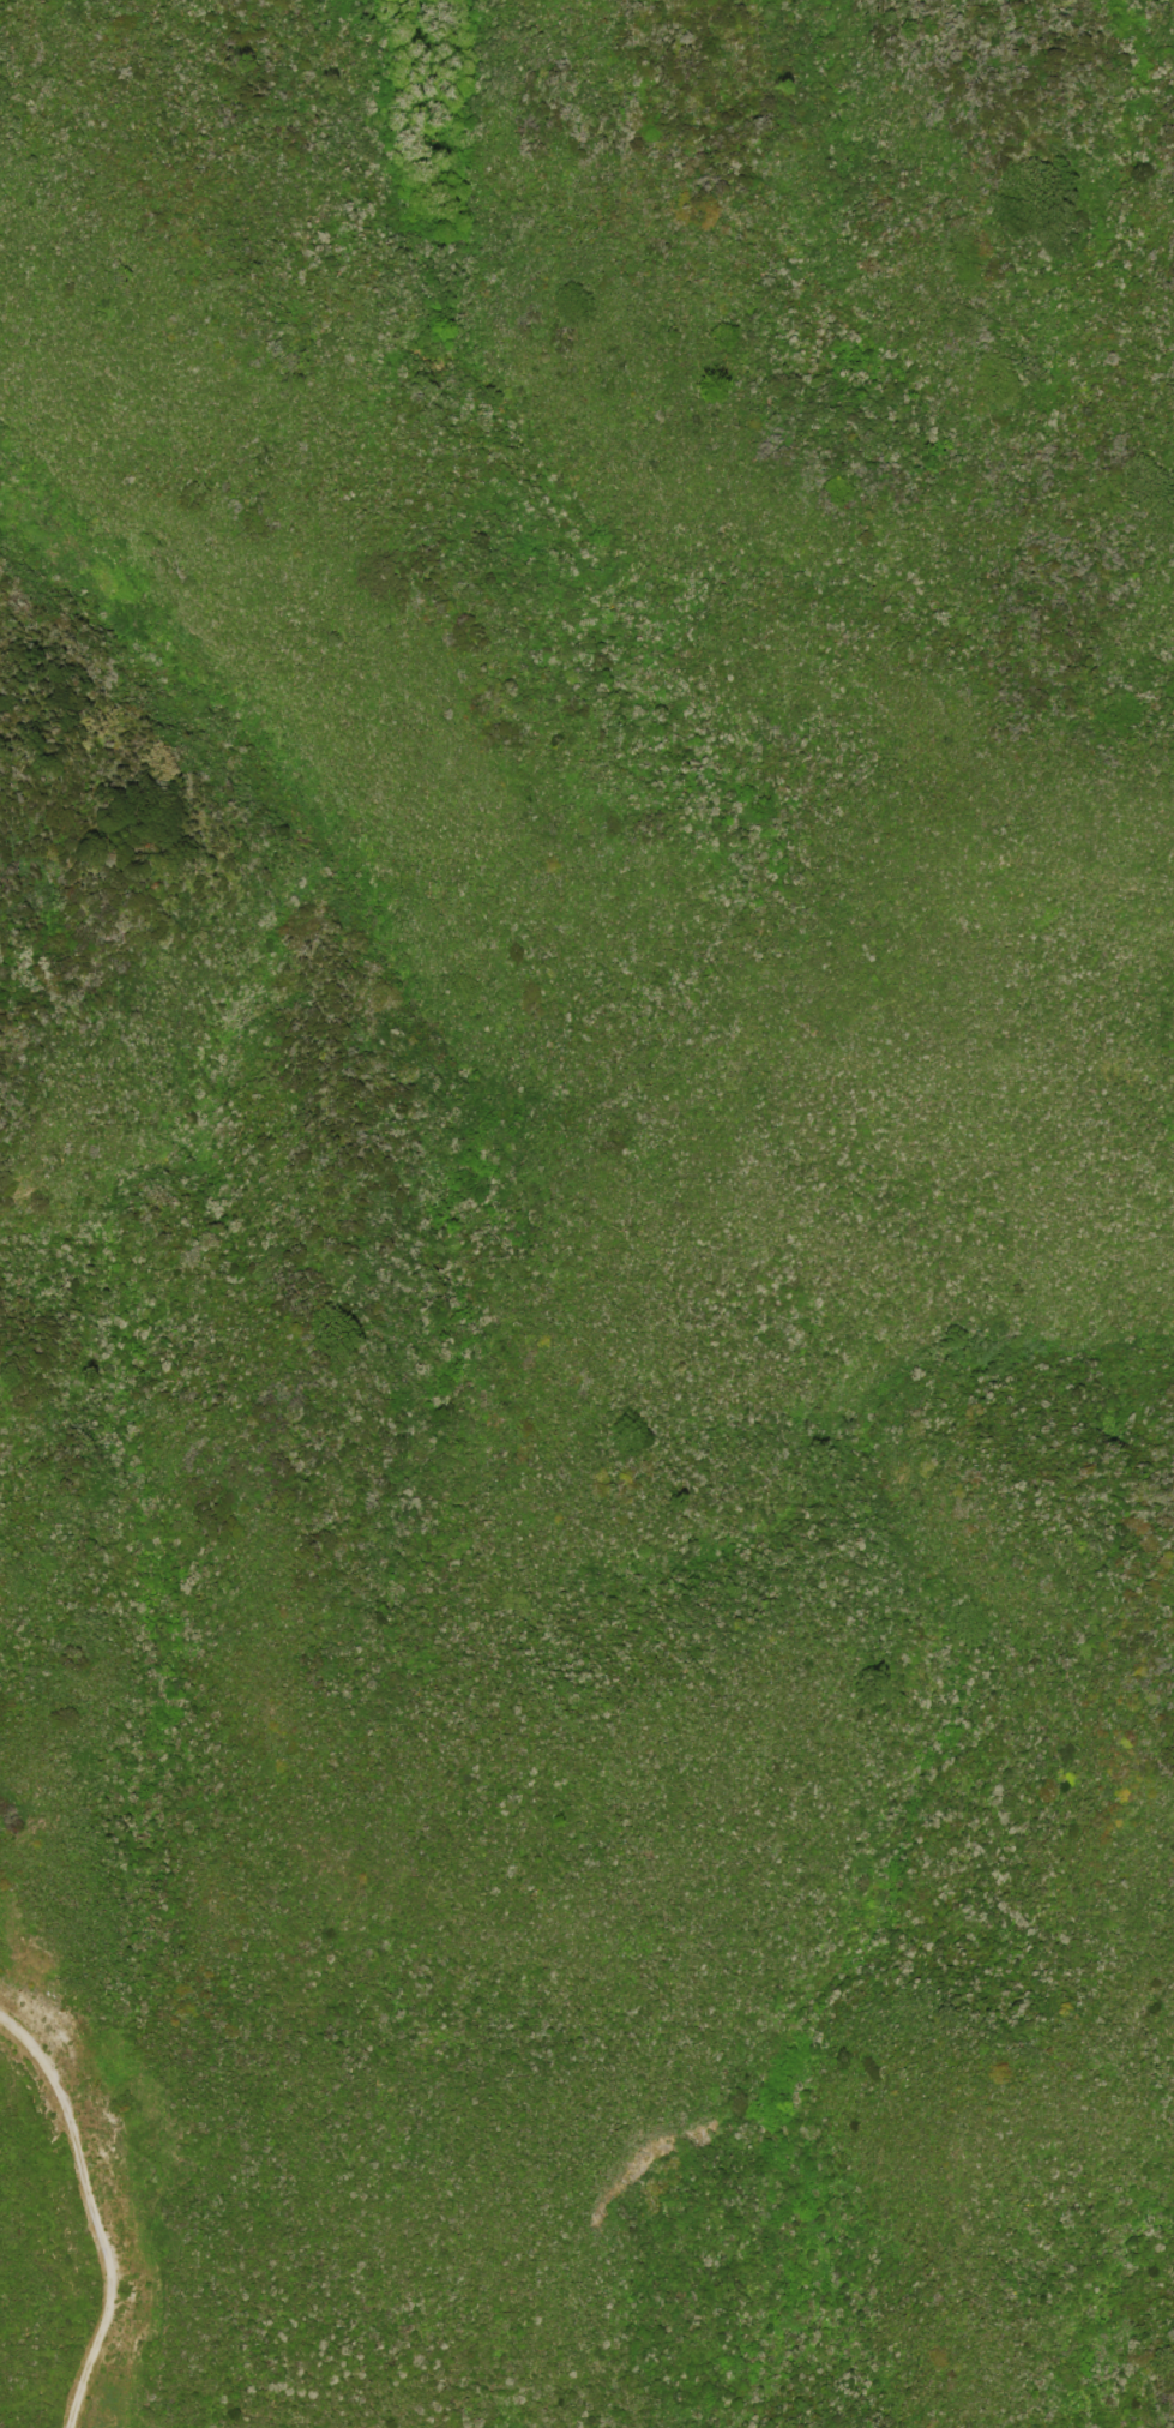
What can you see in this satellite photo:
road: (91, 2212)

